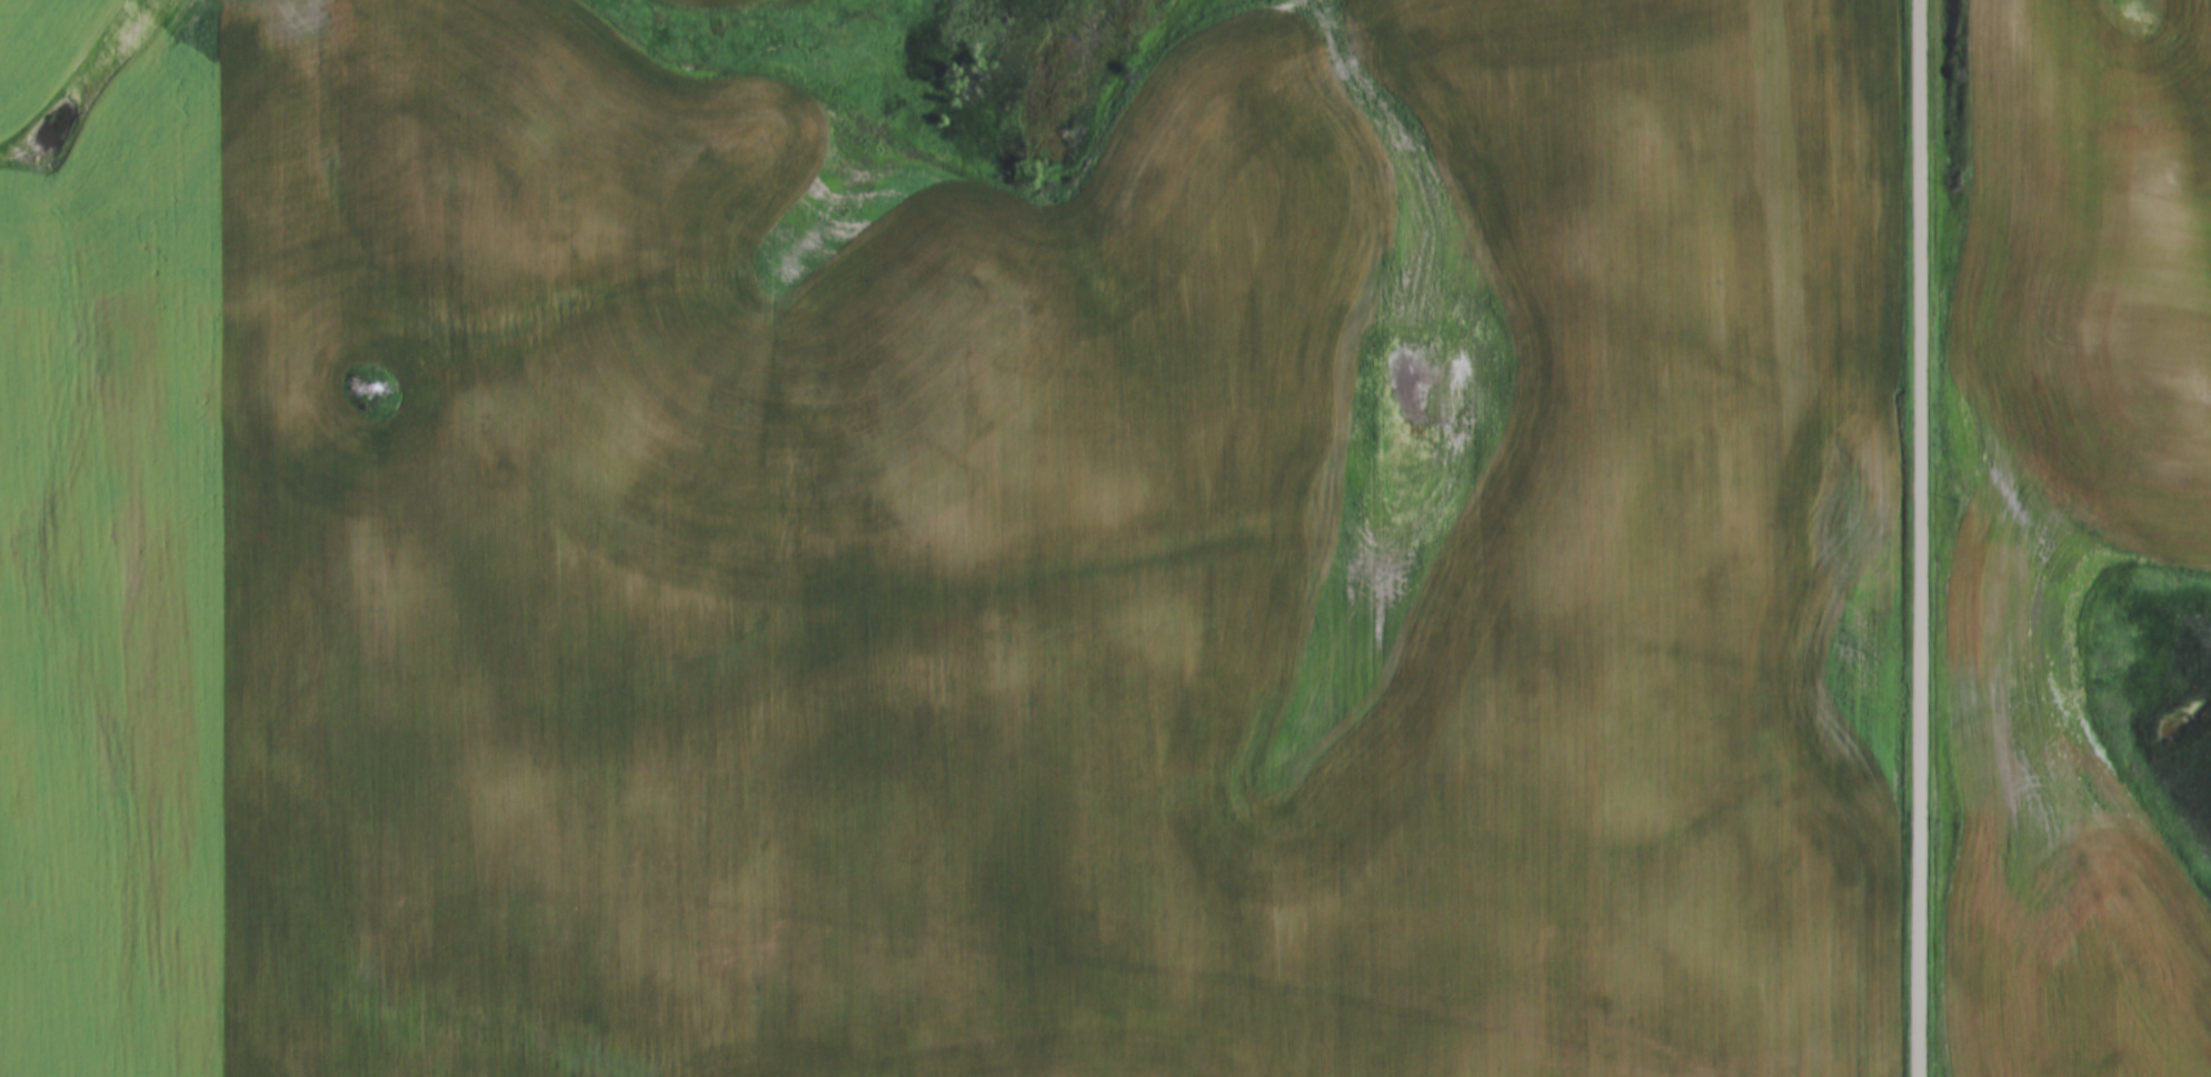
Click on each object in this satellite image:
road: (1923, 538)

